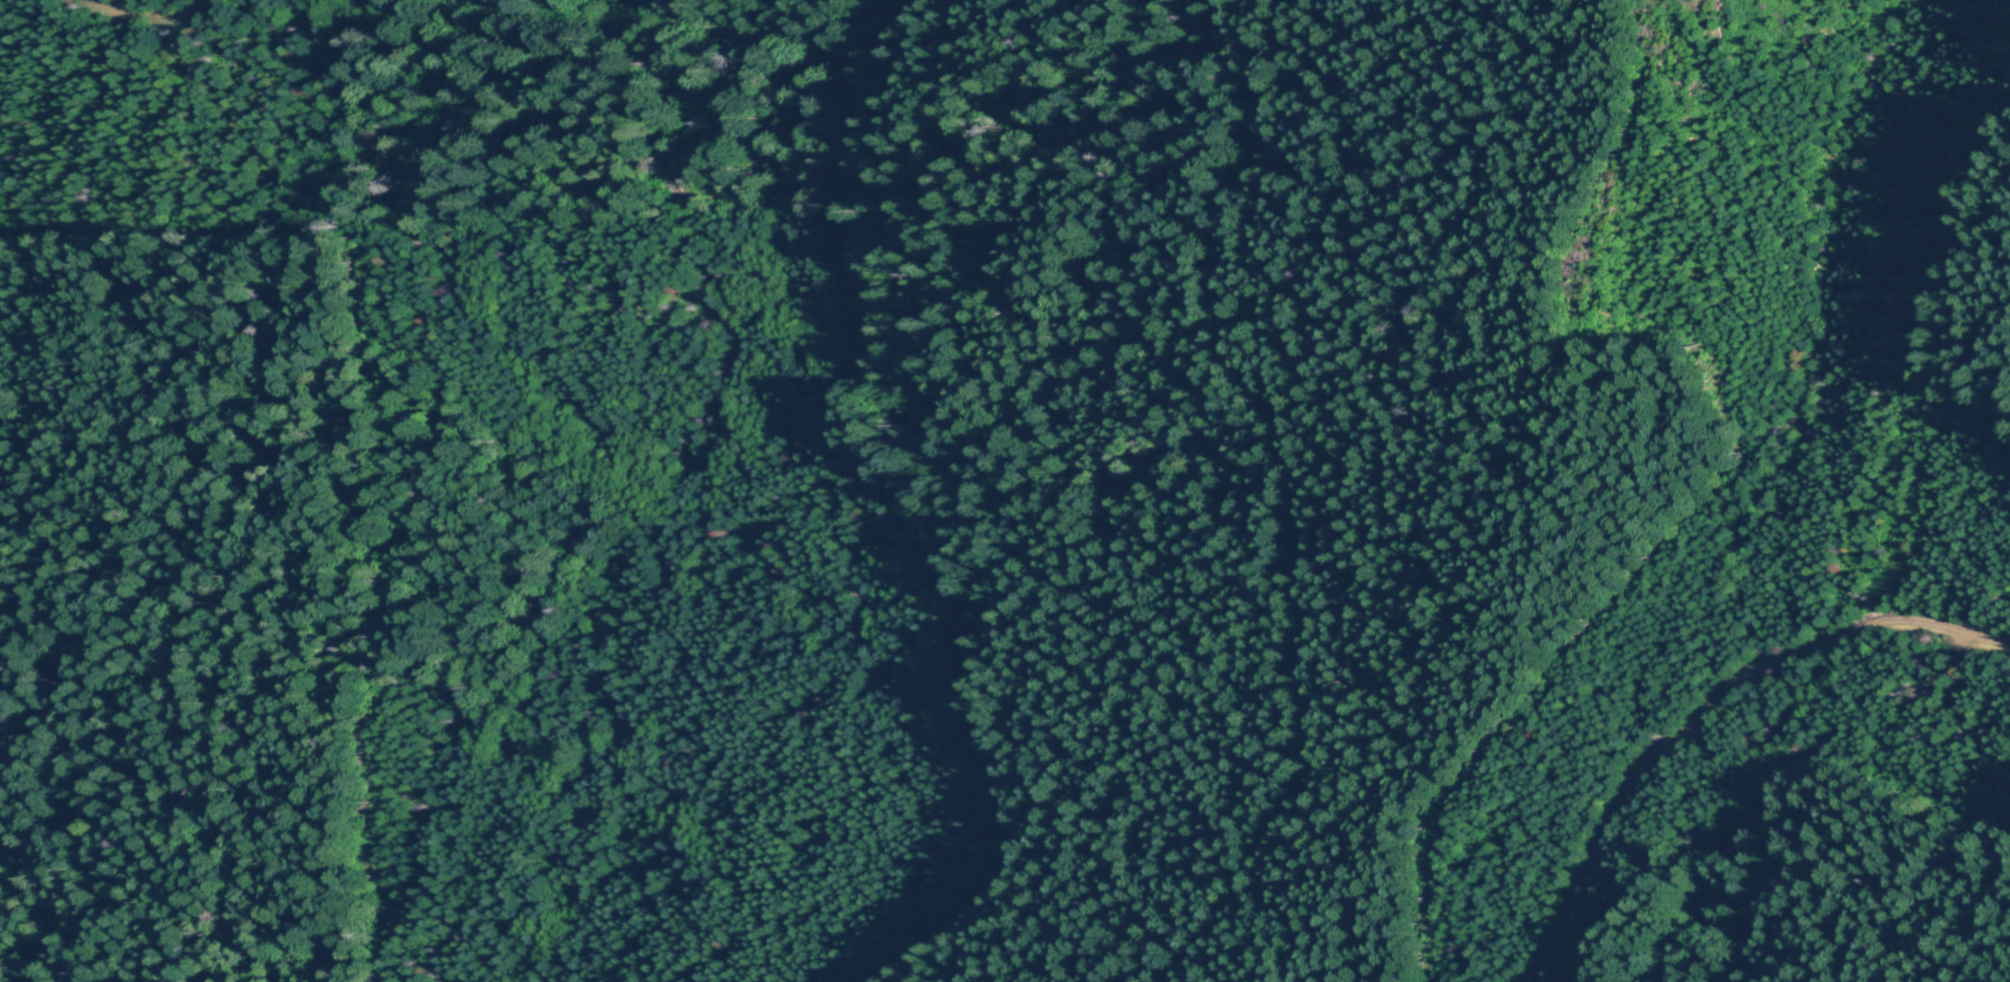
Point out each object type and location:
road: (789, 467)

